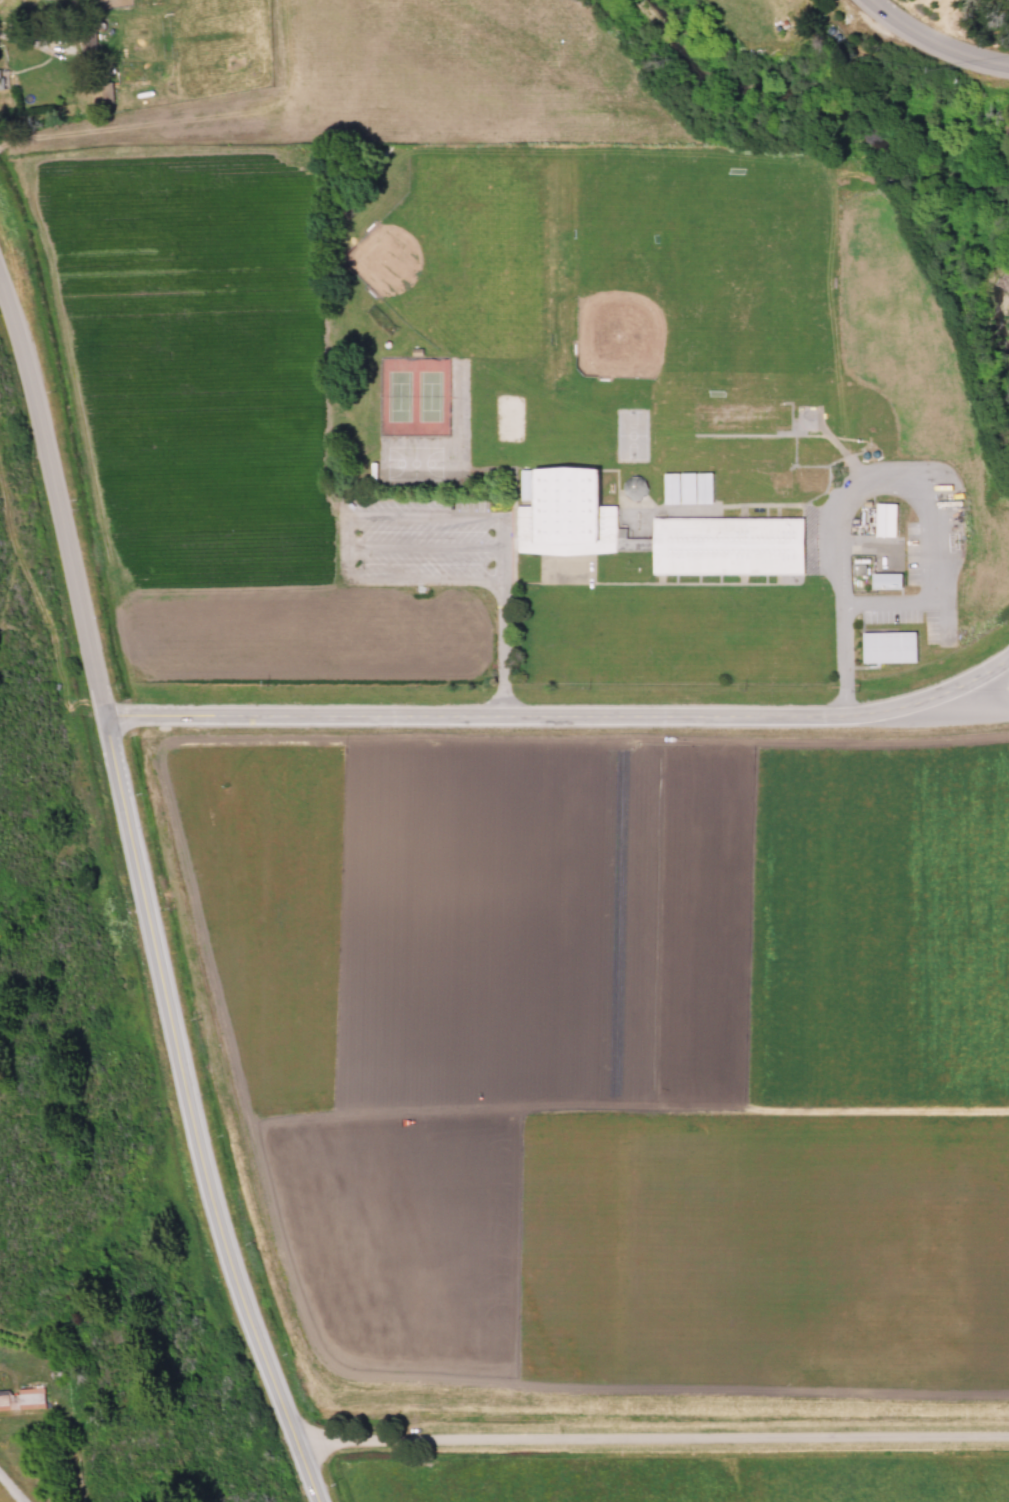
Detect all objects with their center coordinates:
road: (932, 43)
building: (0, 82)
park: (738, 271)
park: (414, 397)
building: (634, 486)
building: (687, 487)
road: (912, 499)
building: (562, 515)
road: (395, 516)
road: (473, 517)
building: (884, 520)
parking lot: (423, 541)
building: (629, 541)
road: (345, 546)
road: (423, 547)
building: (725, 547)
road: (501, 550)
parking lot: (928, 552)
road: (424, 579)
building: (884, 582)
building: (887, 648)
road: (502, 649)
road: (843, 668)
road: (972, 710)
road: (559, 713)
crop: (579, 839)
road: (140, 909)
road: (363, 1443)
road: (722, 1444)
road: (11, 1491)

